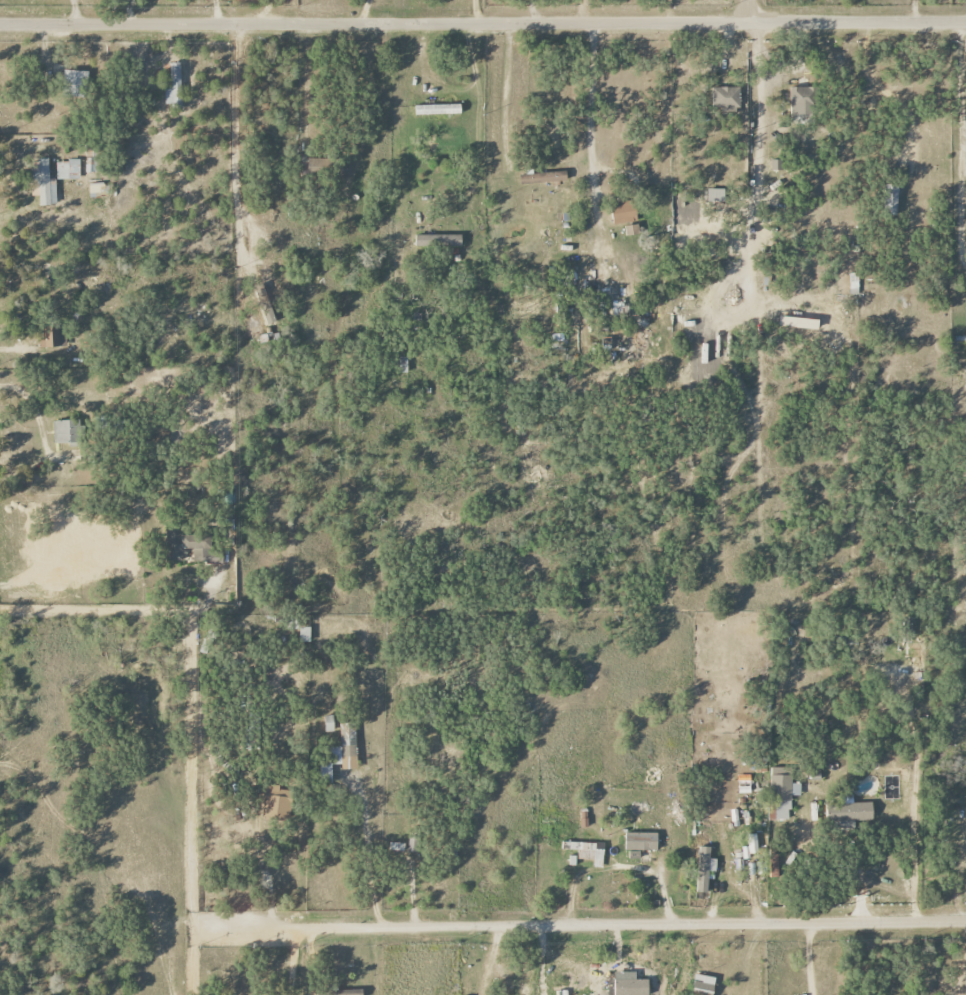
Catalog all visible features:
road: (363, 11)
road: (475, 11)
road: (529, 11)
road: (747, 11)
road: (910, 11)
road: (482, 22)
road: (423, 78)
building: (74, 83)
building: (174, 87)
road: (585, 95)
building: (725, 97)
building: (802, 100)
road: (477, 107)
building: (438, 109)
road: (961, 144)
road: (754, 147)
road: (233, 153)
building: (775, 164)
building: (312, 167)
building: (67, 169)
building: (542, 177)
building: (44, 183)
building: (96, 188)
building: (715, 195)
building: (890, 199)
building: (623, 212)
building: (631, 230)
building: (438, 240)
building: (853, 283)
building: (265, 295)
building: (798, 323)
building: (51, 337)
building: (403, 364)
building: (65, 432)
building: (190, 546)
road: (121, 608)
building: (304, 635)
building: (329, 723)
building: (339, 751)
building: (744, 784)
building: (781, 793)
building: (275, 802)
building: (849, 812)
building: (583, 819)
road: (723, 832)
building: (641, 841)
building: (752, 843)
building: (412, 844)
building: (396, 846)
building: (585, 851)
building: (704, 868)
road: (363, 872)
road: (749, 892)
road: (586, 926)
road: (748, 958)
road: (808, 958)
road: (526, 961)
building: (704, 983)
building: (630, 987)
building: (340, 992)

